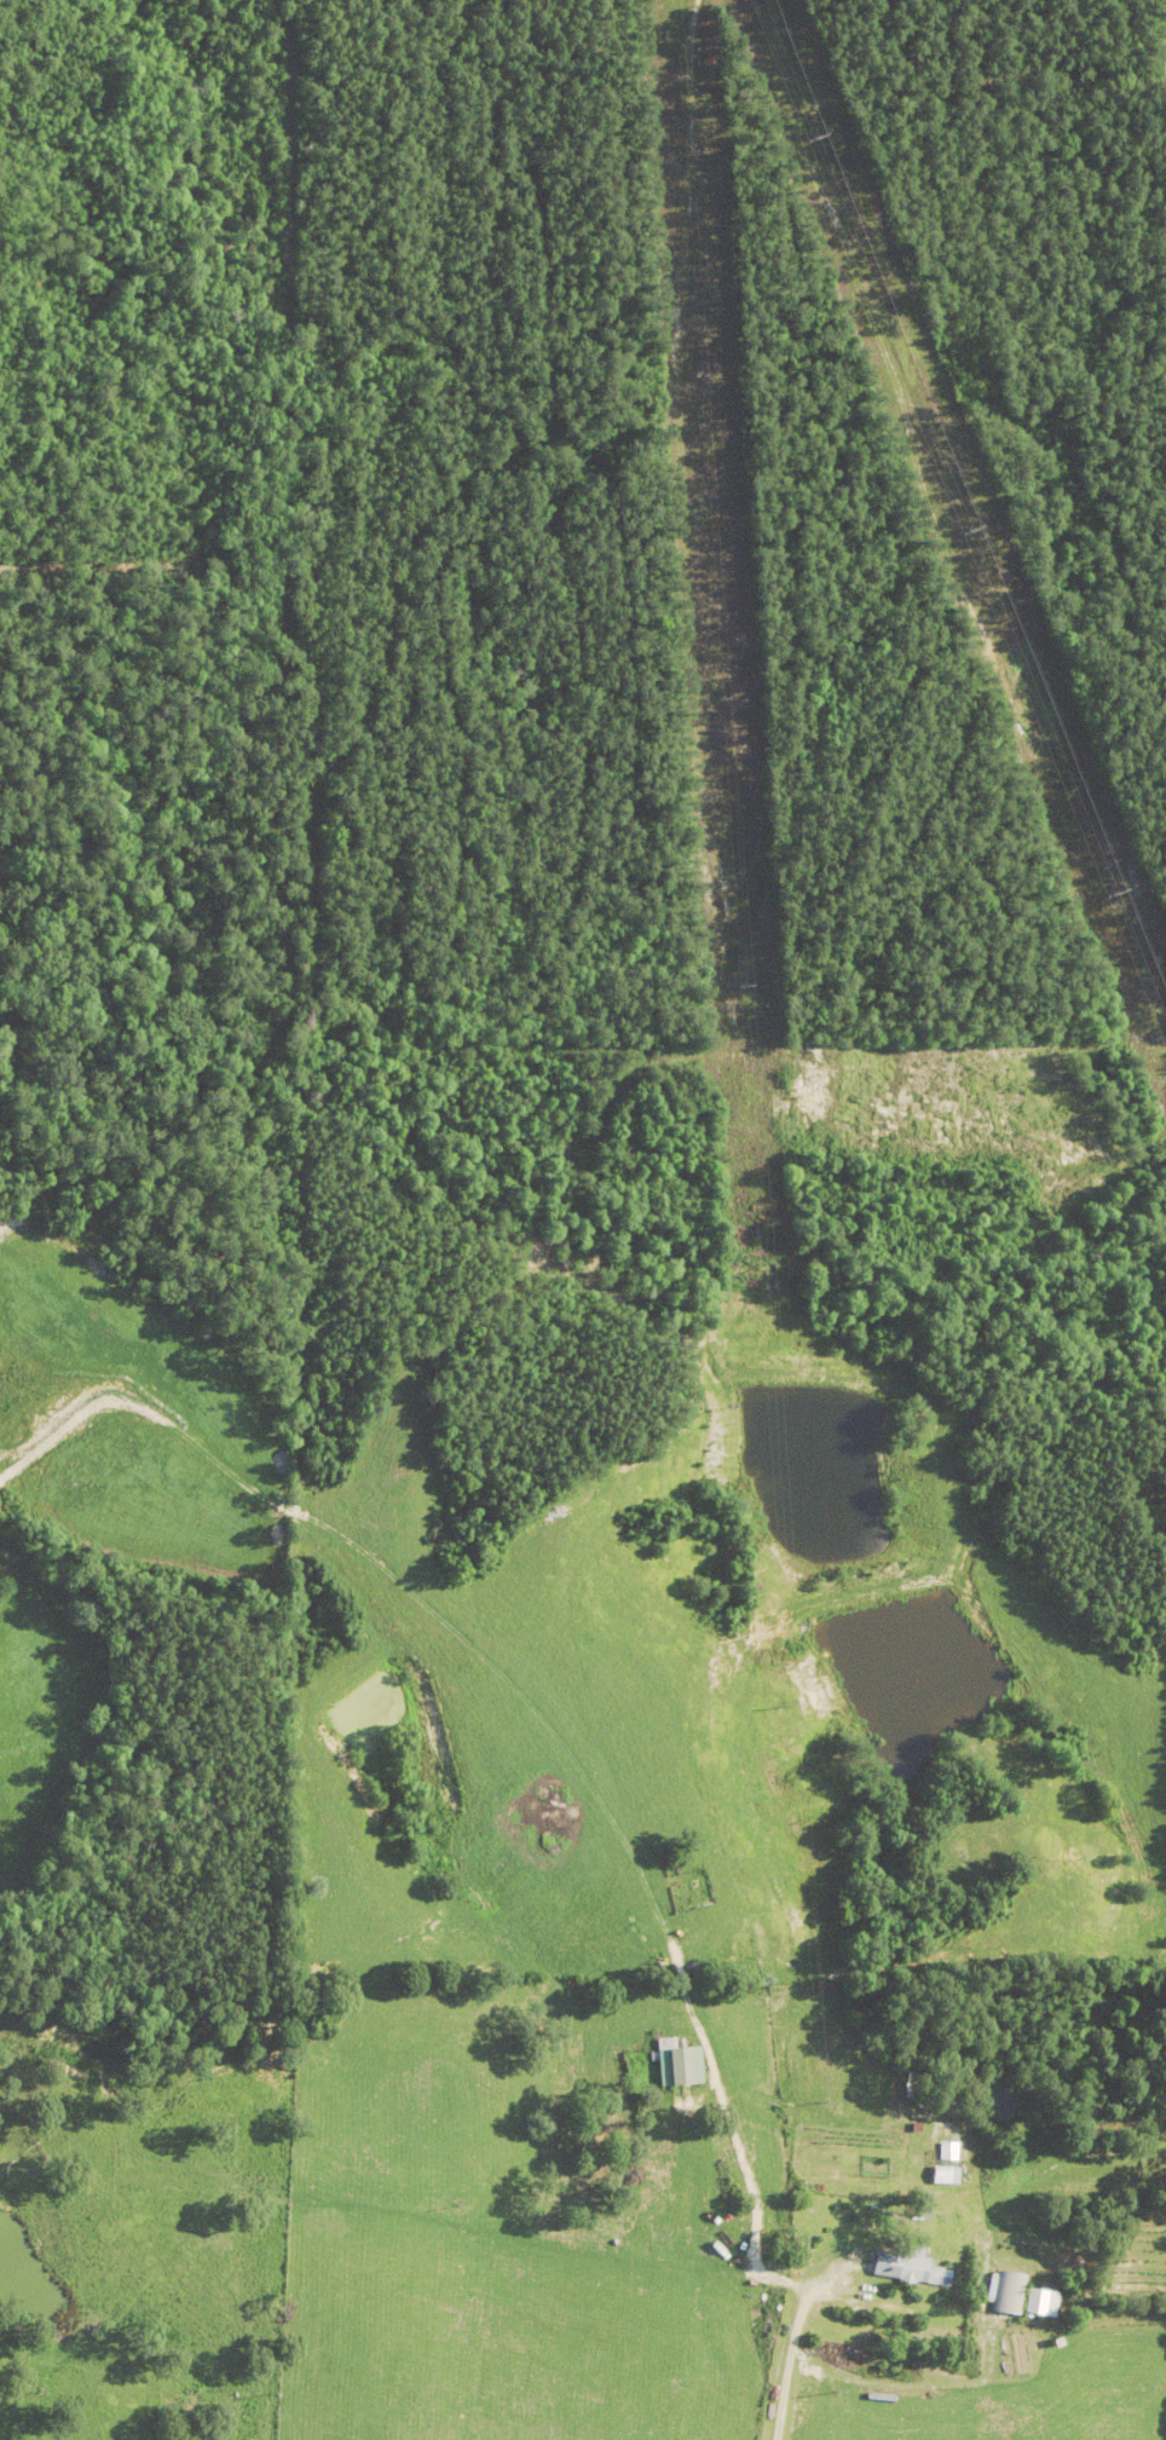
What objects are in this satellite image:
building: (943, 2175)
building: (906, 2267)
building: (1006, 2292)
building: (1038, 2302)
road: (792, 2342)

